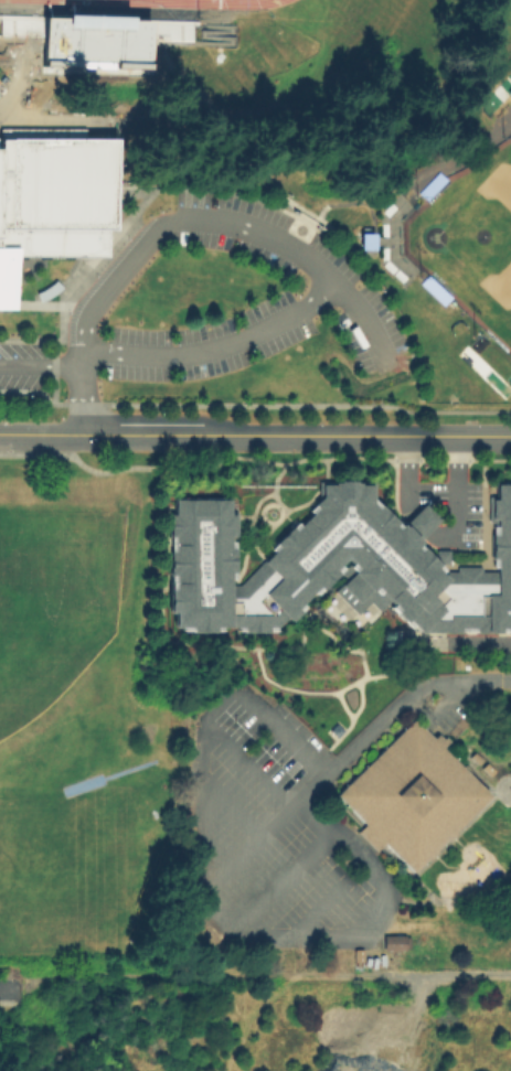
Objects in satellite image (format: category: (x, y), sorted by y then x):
track: (181, 2)
road: (17, 77)
building: (510, 92)
road: (159, 113)
road: (60, 120)
road: (220, 129)
road: (121, 174)
building: (434, 186)
road: (231, 192)
building: (52, 199)
road: (363, 199)
road: (214, 223)
building: (368, 240)
park: (469, 242)
road: (373, 250)
road: (102, 260)
parking lot: (315, 278)
building: (437, 291)
road: (30, 339)
road: (219, 349)
road: (71, 371)
road: (199, 405)
road: (456, 411)
road: (255, 433)
building: (419, 522)
road: (439, 533)
building: (336, 567)
park: (53, 622)
road: (407, 700)
building: (412, 796)
road: (252, 847)
park: (65, 875)
road: (217, 918)
building: (397, 943)
road: (8, 989)

